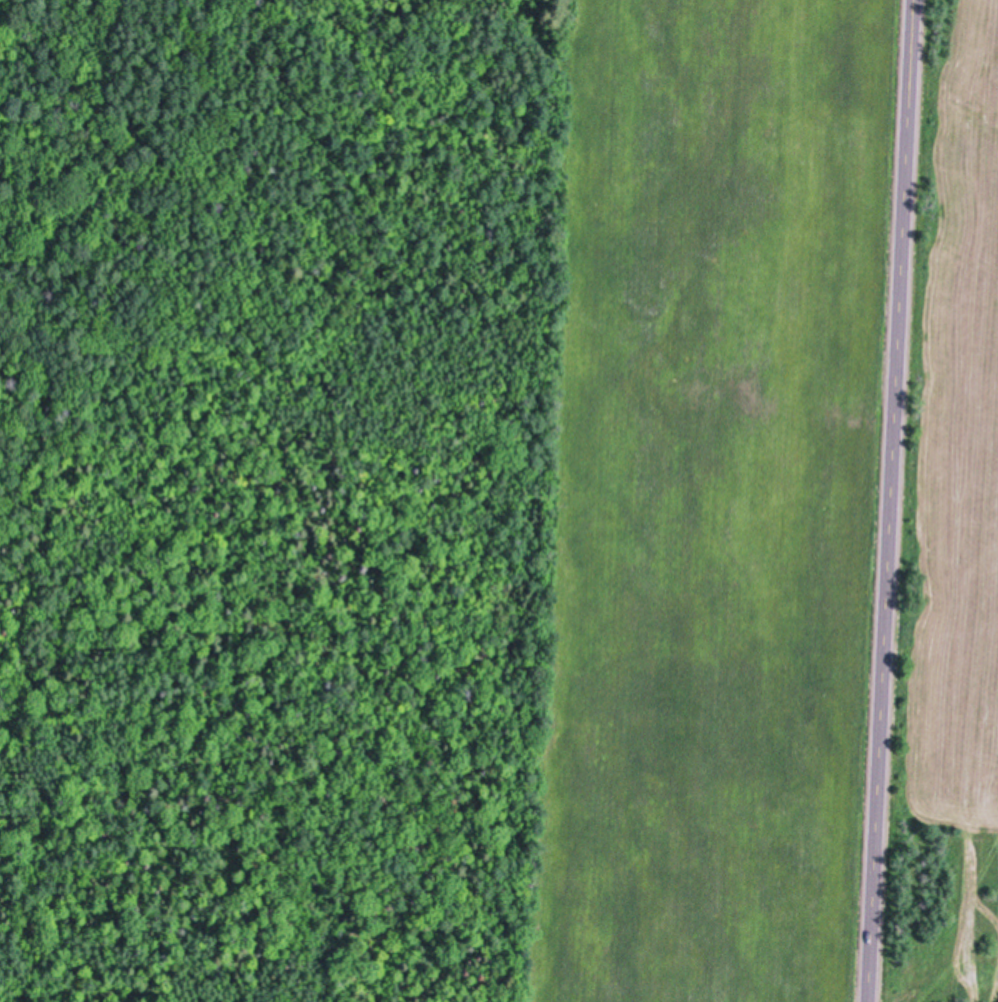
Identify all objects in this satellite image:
road: (891, 500)

